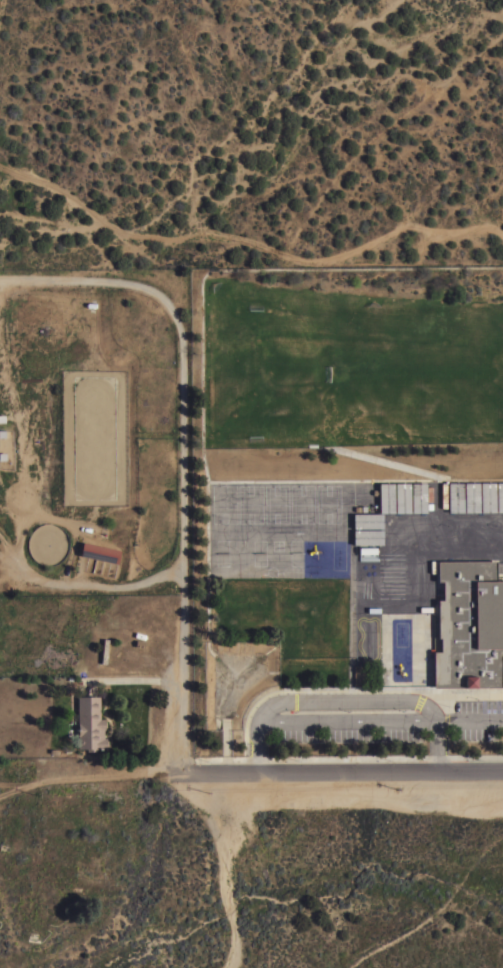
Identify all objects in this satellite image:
park: (422, 369)
road: (183, 450)
building: (487, 496)
building: (499, 496)
building: (386, 497)
building: (402, 497)
building: (418, 497)
building: (455, 497)
building: (471, 497)
building: (367, 520)
road: (456, 534)
building: (367, 536)
building: (99, 553)
building: (469, 625)
building: (104, 651)
road: (183, 670)
road: (350, 701)
road: (470, 722)
road: (349, 723)
building: (89, 724)
road: (340, 775)
road: (87, 778)
road: (226, 870)
road: (435, 913)

